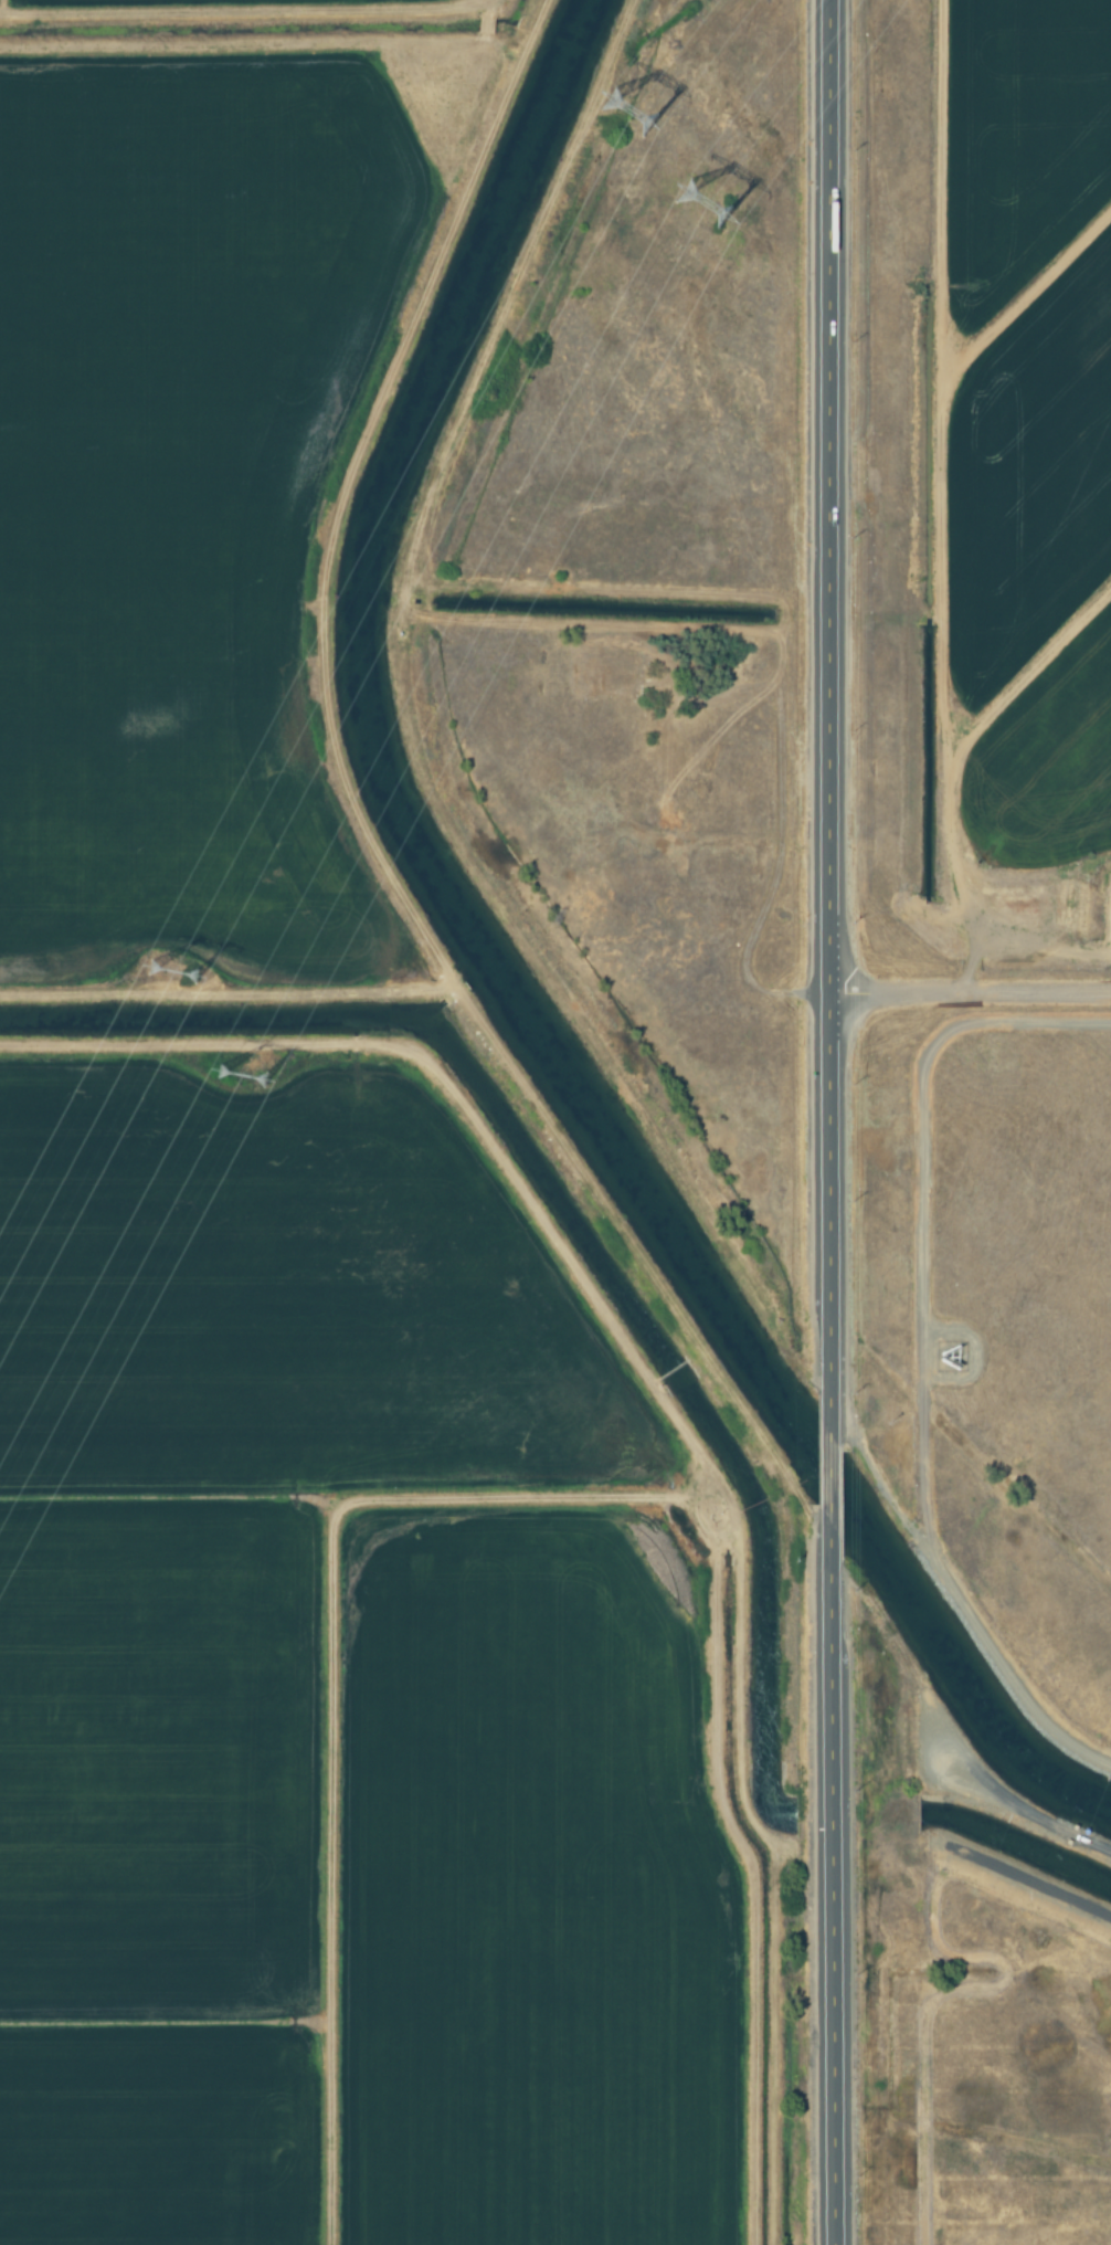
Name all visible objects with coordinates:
power tower: (638, 109)
power tower: (706, 209)
road: (827, 714)
power tower: (179, 963)
river: (504, 969)
power tower: (250, 1078)
road: (827, 1478)
road: (828, 1887)

